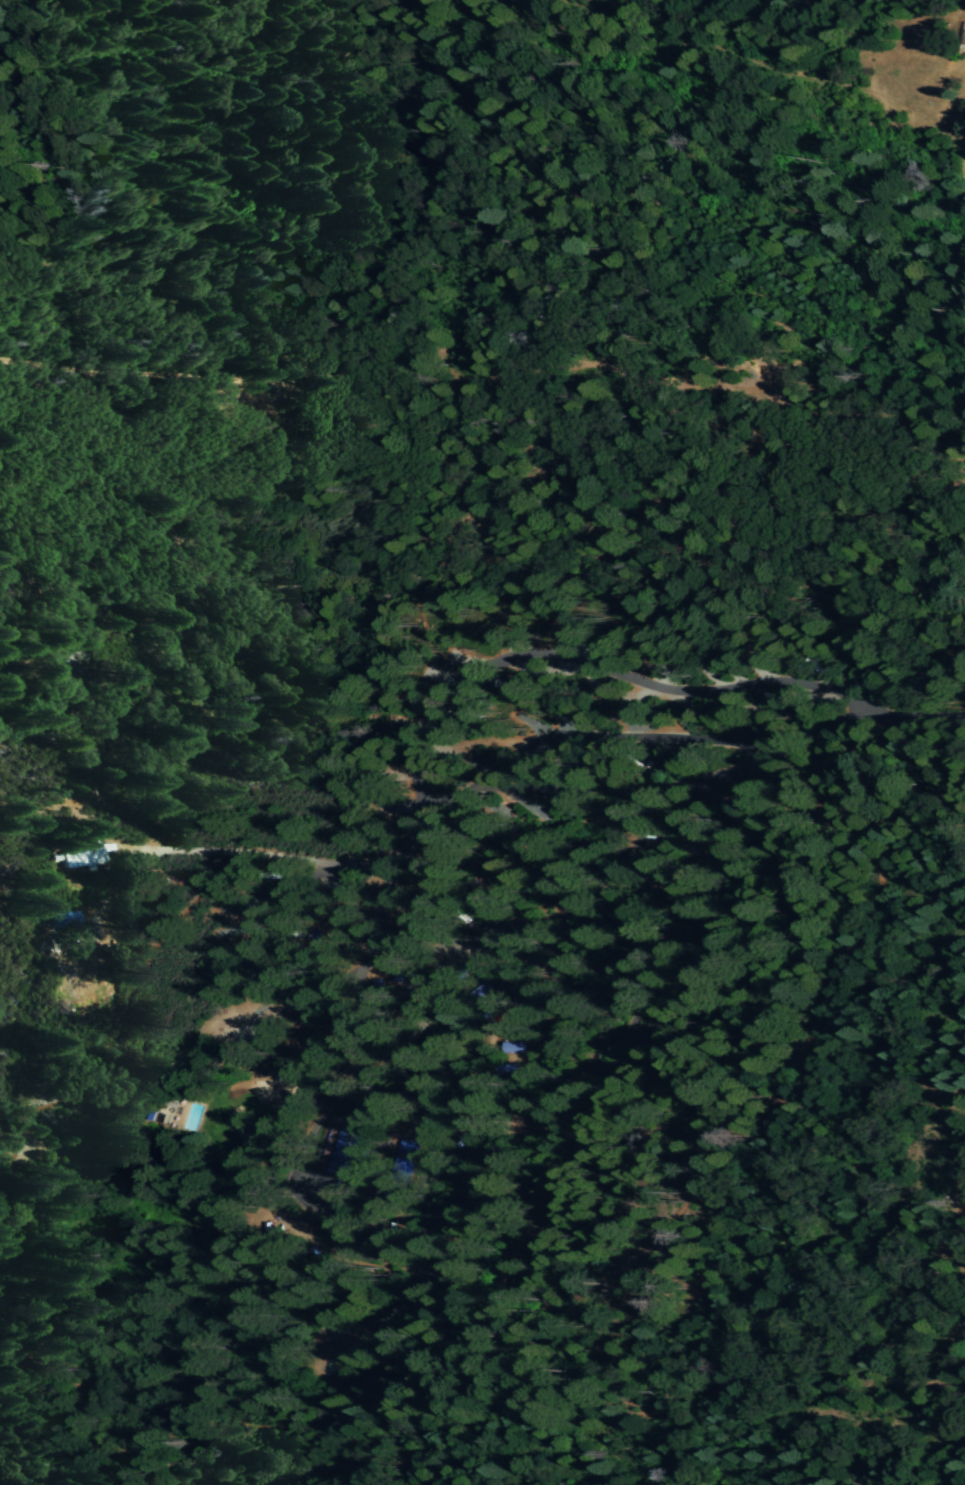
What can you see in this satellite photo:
road: (156, 372)
road: (849, 710)
building: (568, 809)
building: (81, 858)
building: (64, 919)
building: (431, 926)
building: (396, 971)
building: (516, 1047)
building: (507, 1069)
building: (349, 1151)
building: (398, 1172)
road: (317, 1200)

